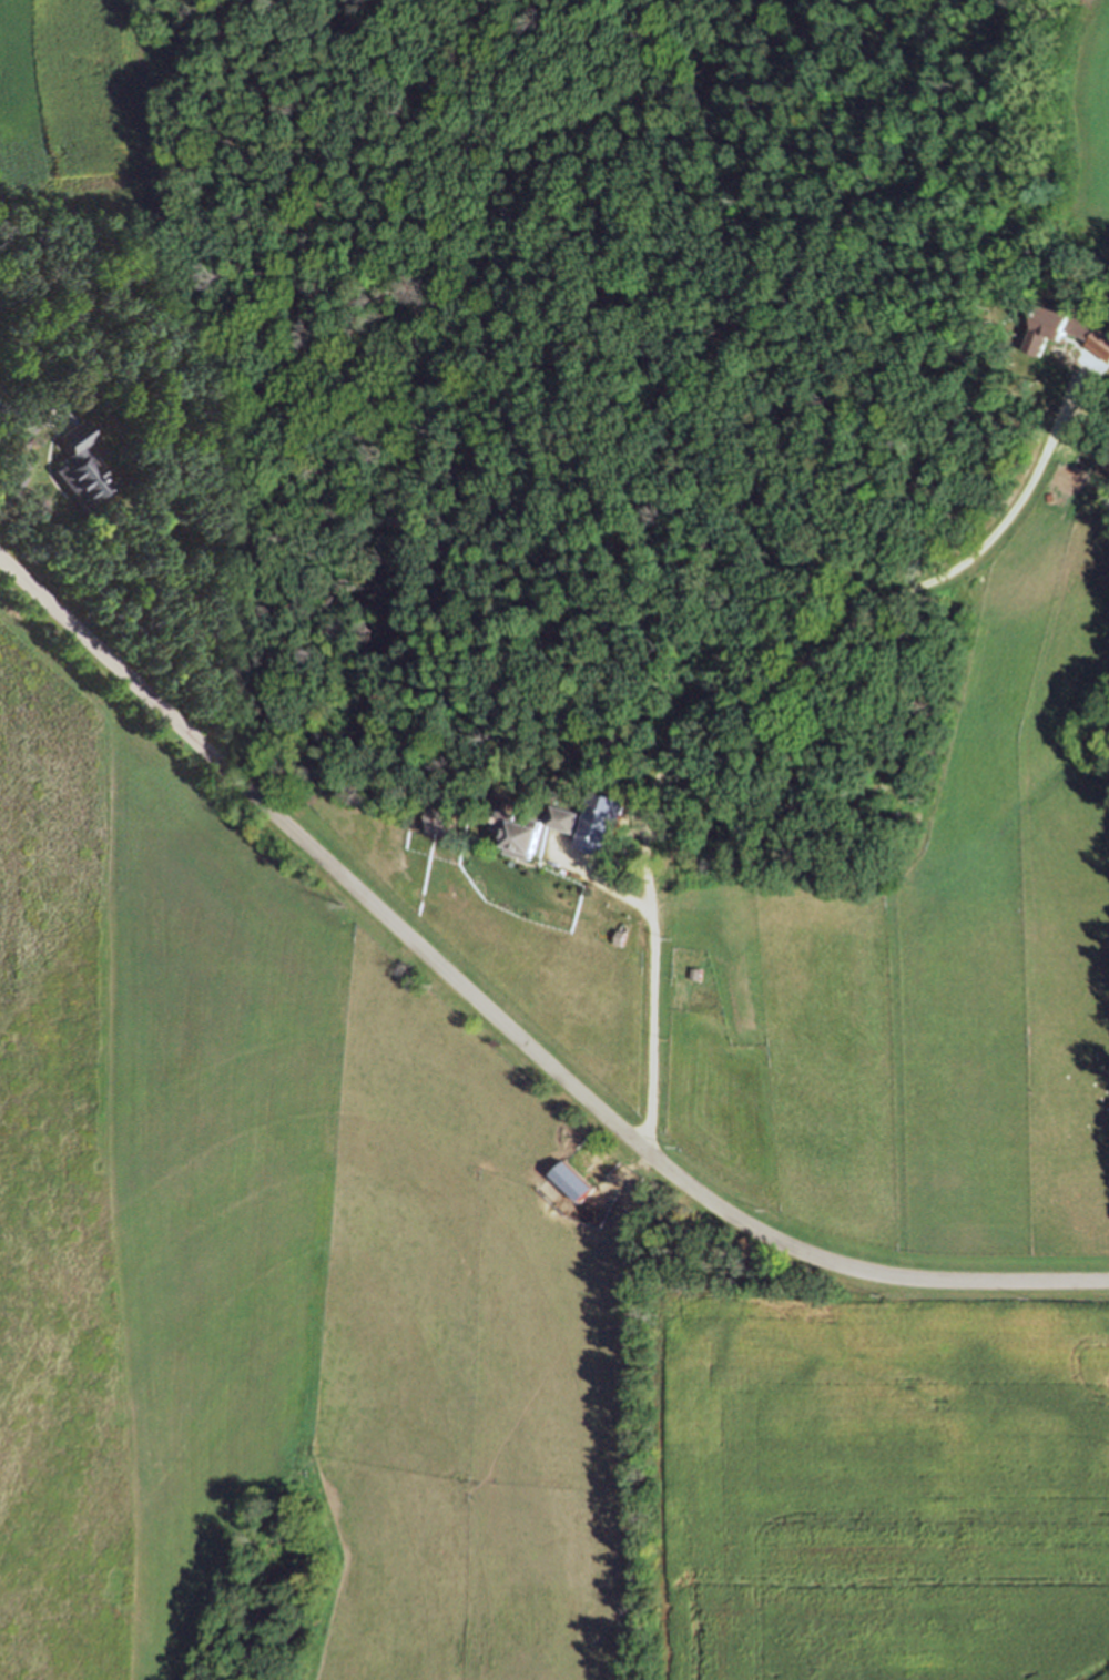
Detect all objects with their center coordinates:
road: (19, 449)
building: (74, 467)
building: (564, 817)
building: (440, 821)
building: (521, 833)
building: (397, 836)
building: (580, 838)
building: (622, 936)
road: (653, 971)
building: (712, 1004)
road: (505, 1025)

